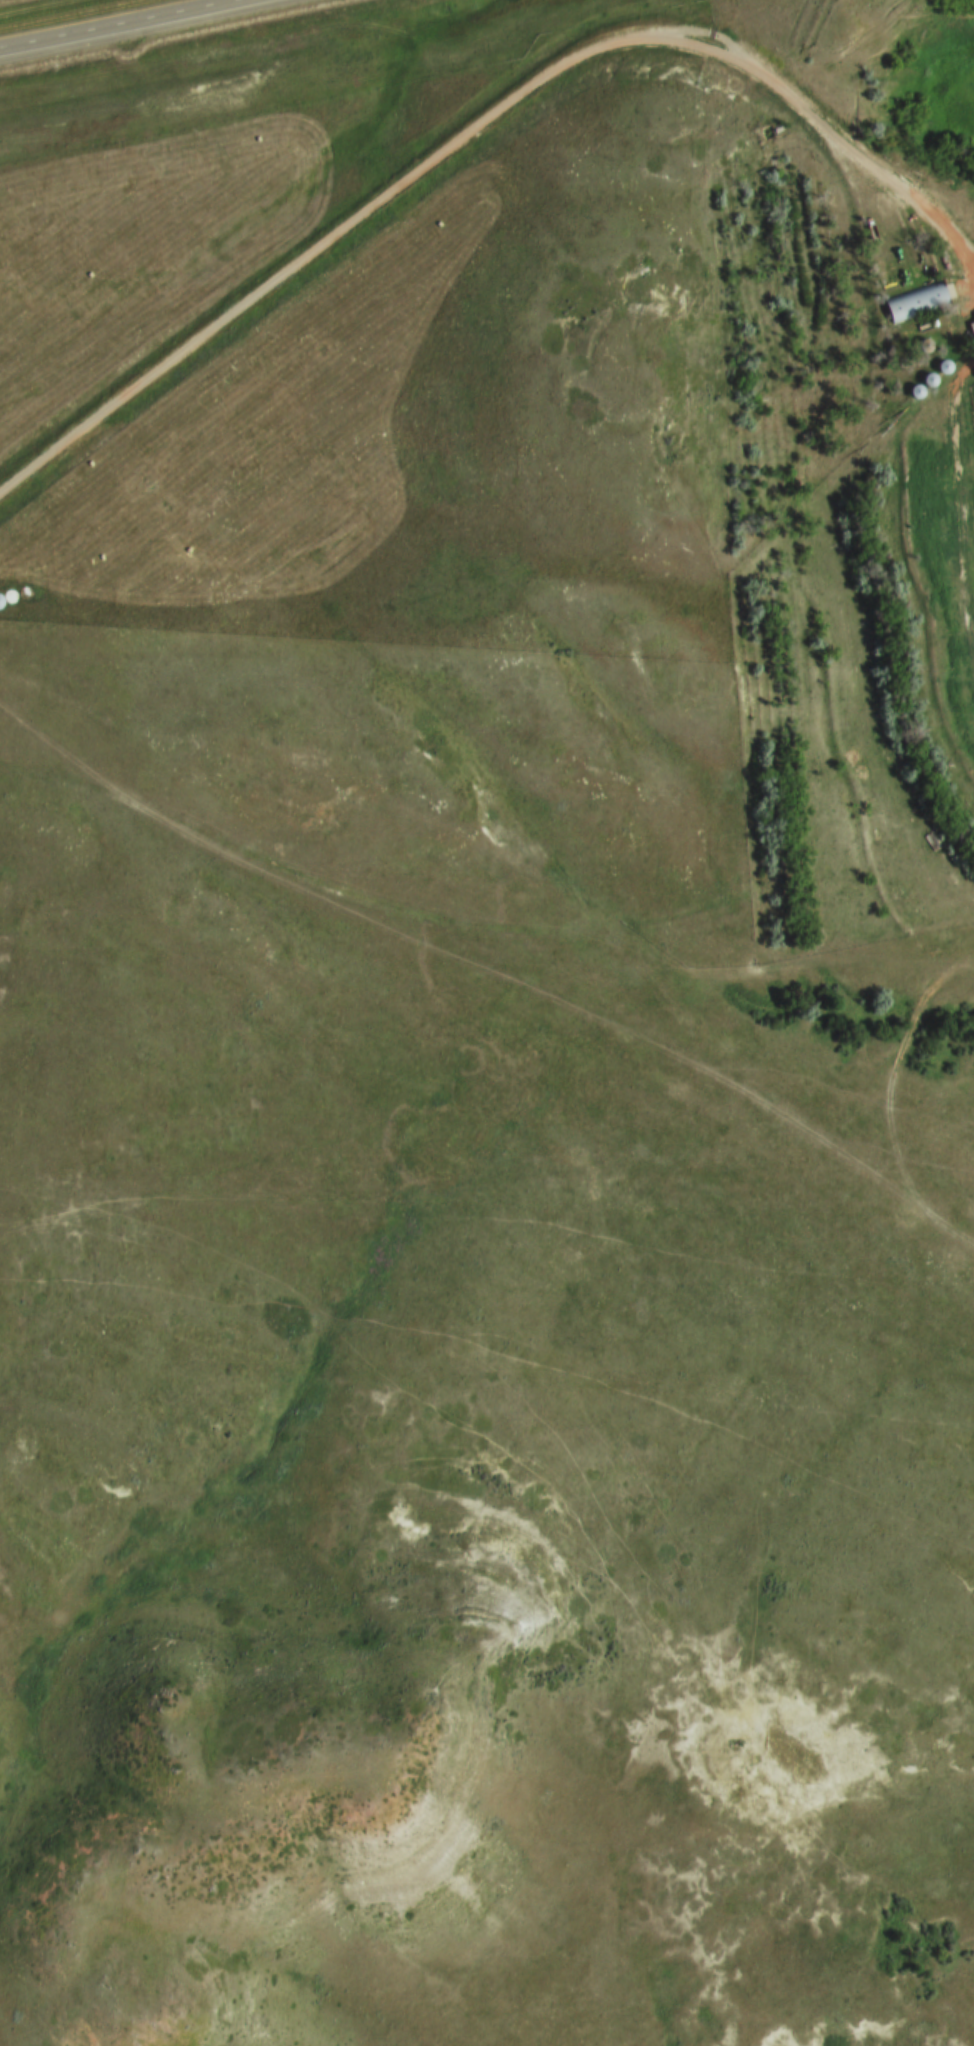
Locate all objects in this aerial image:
road: (140, 26)
road: (478, 132)
building: (947, 256)
building: (920, 301)
building: (972, 325)

